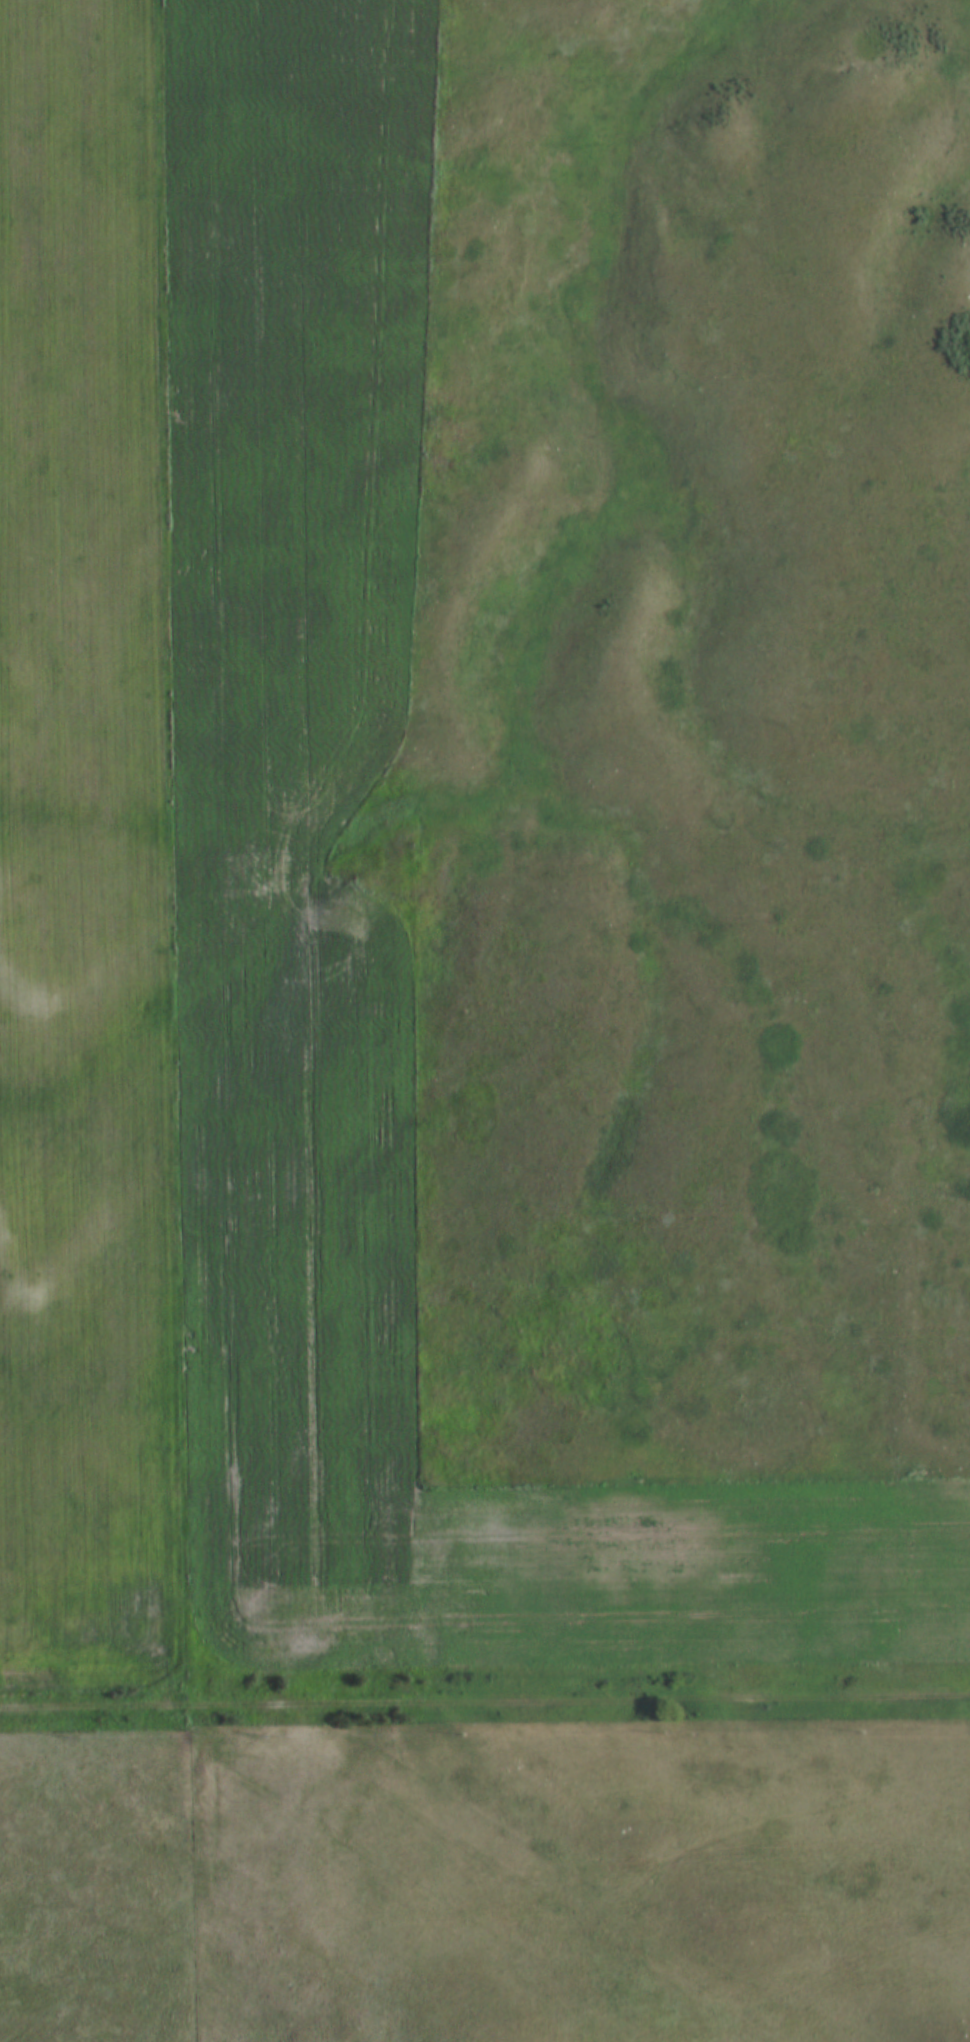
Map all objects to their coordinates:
road: (484, 1701)

